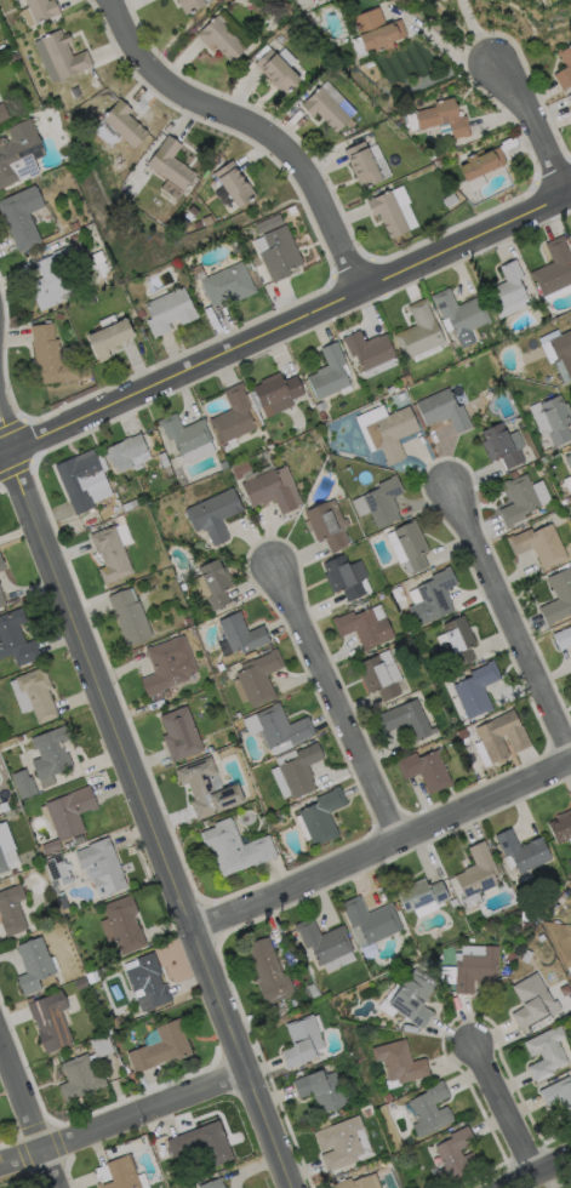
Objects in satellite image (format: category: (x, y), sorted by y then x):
building: (218, 0)
building: (190, 5)
building: (42, 8)
building: (289, 27)
building: (377, 30)
building: (221, 39)
building: (64, 55)
building: (12, 57)
building: (564, 69)
building: (278, 72)
building: (74, 93)
building: (336, 97)
building: (326, 109)
building: (570, 109)
building: (2, 113)
building: (444, 118)
road: (529, 120)
building: (124, 122)
road: (255, 125)
building: (19, 154)
building: (430, 155)
building: (438, 162)
building: (481, 162)
building: (171, 164)
building: (362, 165)
building: (234, 184)
building: (450, 200)
building: (292, 209)
building: (388, 213)
building: (21, 217)
building: (207, 221)
building: (269, 223)
building: (198, 224)
building: (75, 225)
building: (570, 232)
building: (280, 253)
building: (554, 268)
building: (51, 284)
building: (228, 285)
building: (507, 286)
building: (556, 292)
building: (169, 310)
building: (461, 312)
building: (139, 313)
building: (59, 315)
road: (291, 319)
building: (419, 331)
building: (109, 338)
building: (369, 349)
building: (563, 355)
building: (51, 356)
building: (329, 373)
building: (547, 379)
building: (405, 381)
building: (278, 392)
building: (401, 395)
building: (489, 395)
building: (320, 406)
building: (444, 410)
building: (234, 415)
building: (322, 416)
building: (556, 418)
road: (6, 433)
building: (184, 433)
building: (392, 434)
building: (270, 445)
building: (503, 445)
building: (126, 452)
road: (6, 453)
building: (162, 459)
building: (569, 459)
building: (240, 469)
building: (81, 479)
building: (269, 492)
building: (569, 499)
building: (519, 501)
building: (383, 502)
building: (127, 507)
building: (570, 508)
building: (213, 514)
building: (120, 519)
building: (329, 525)
building: (121, 532)
building: (412, 546)
building: (538, 546)
building: (110, 555)
building: (1, 565)
building: (346, 577)
building: (216, 583)
building: (382, 583)
building: (398, 594)
building: (559, 596)
building: (433, 598)
building: (1, 600)
building: (130, 617)
road: (513, 617)
building: (364, 627)
building: (241, 634)
building: (563, 638)
building: (16, 639)
building: (459, 640)
building: (169, 664)
building: (259, 678)
building: (377, 678)
building: (570, 681)
building: (476, 689)
building: (38, 693)
road: (342, 702)
building: (238, 714)
building: (407, 719)
building: (282, 726)
building: (181, 733)
building: (463, 735)
building: (502, 736)
building: (5, 746)
building: (51, 753)
building: (301, 770)
building: (426, 770)
building: (24, 783)
building: (206, 789)
building: (70, 812)
building: (322, 816)
road: (154, 819)
building: (561, 827)
building: (51, 846)
building: (67, 846)
road: (383, 846)
building: (235, 847)
building: (523, 851)
building: (2, 862)
building: (102, 867)
building: (438, 868)
building: (58, 869)
building: (13, 872)
building: (478, 872)
building: (55, 886)
building: (422, 895)
building: (561, 895)
building: (62, 899)
building: (452, 902)
building: (12, 910)
building: (371, 919)
building: (125, 924)
building: (541, 937)
building: (322, 941)
building: (510, 956)
building: (526, 956)
building: (34, 964)
building: (427, 964)
building: (475, 969)
building: (269, 972)
building: (148, 979)
building: (81, 984)
building: (313, 990)
building: (415, 998)
building: (531, 1000)
building: (293, 1003)
building: (51, 1021)
building: (149, 1027)
building: (302, 1041)
building: (102, 1046)
building: (161, 1047)
building: (546, 1052)
building: (400, 1062)
building: (80, 1078)
building: (321, 1090)
building: (559, 1095)
road: (506, 1107)
building: (430, 1109)
road: (30, 1110)
road: (125, 1116)
building: (202, 1143)
building: (339, 1143)
building: (456, 1155)
building: (223, 1166)
road: (533, 1169)
building: (213, 1170)
building: (121, 1173)
building: (213, 1183)
building: (355, 1183)

